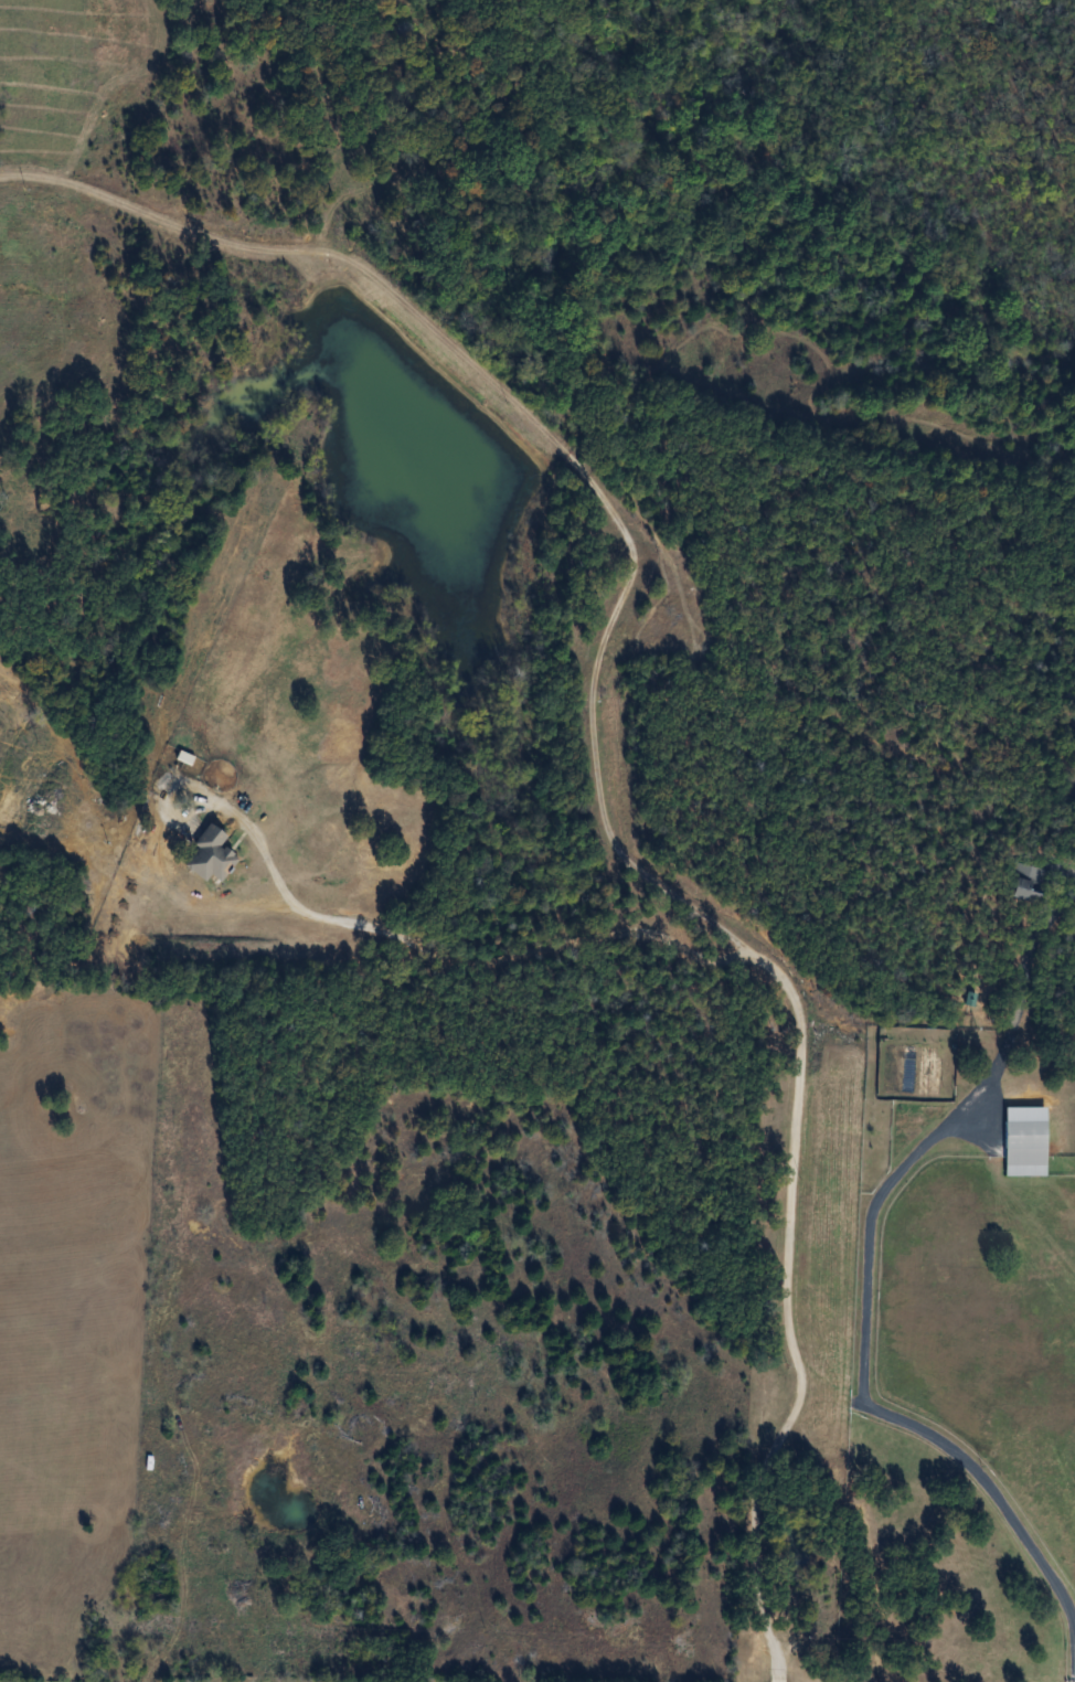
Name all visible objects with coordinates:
building: (209, 855)
building: (1028, 883)
building: (1023, 1141)
road: (872, 1270)

